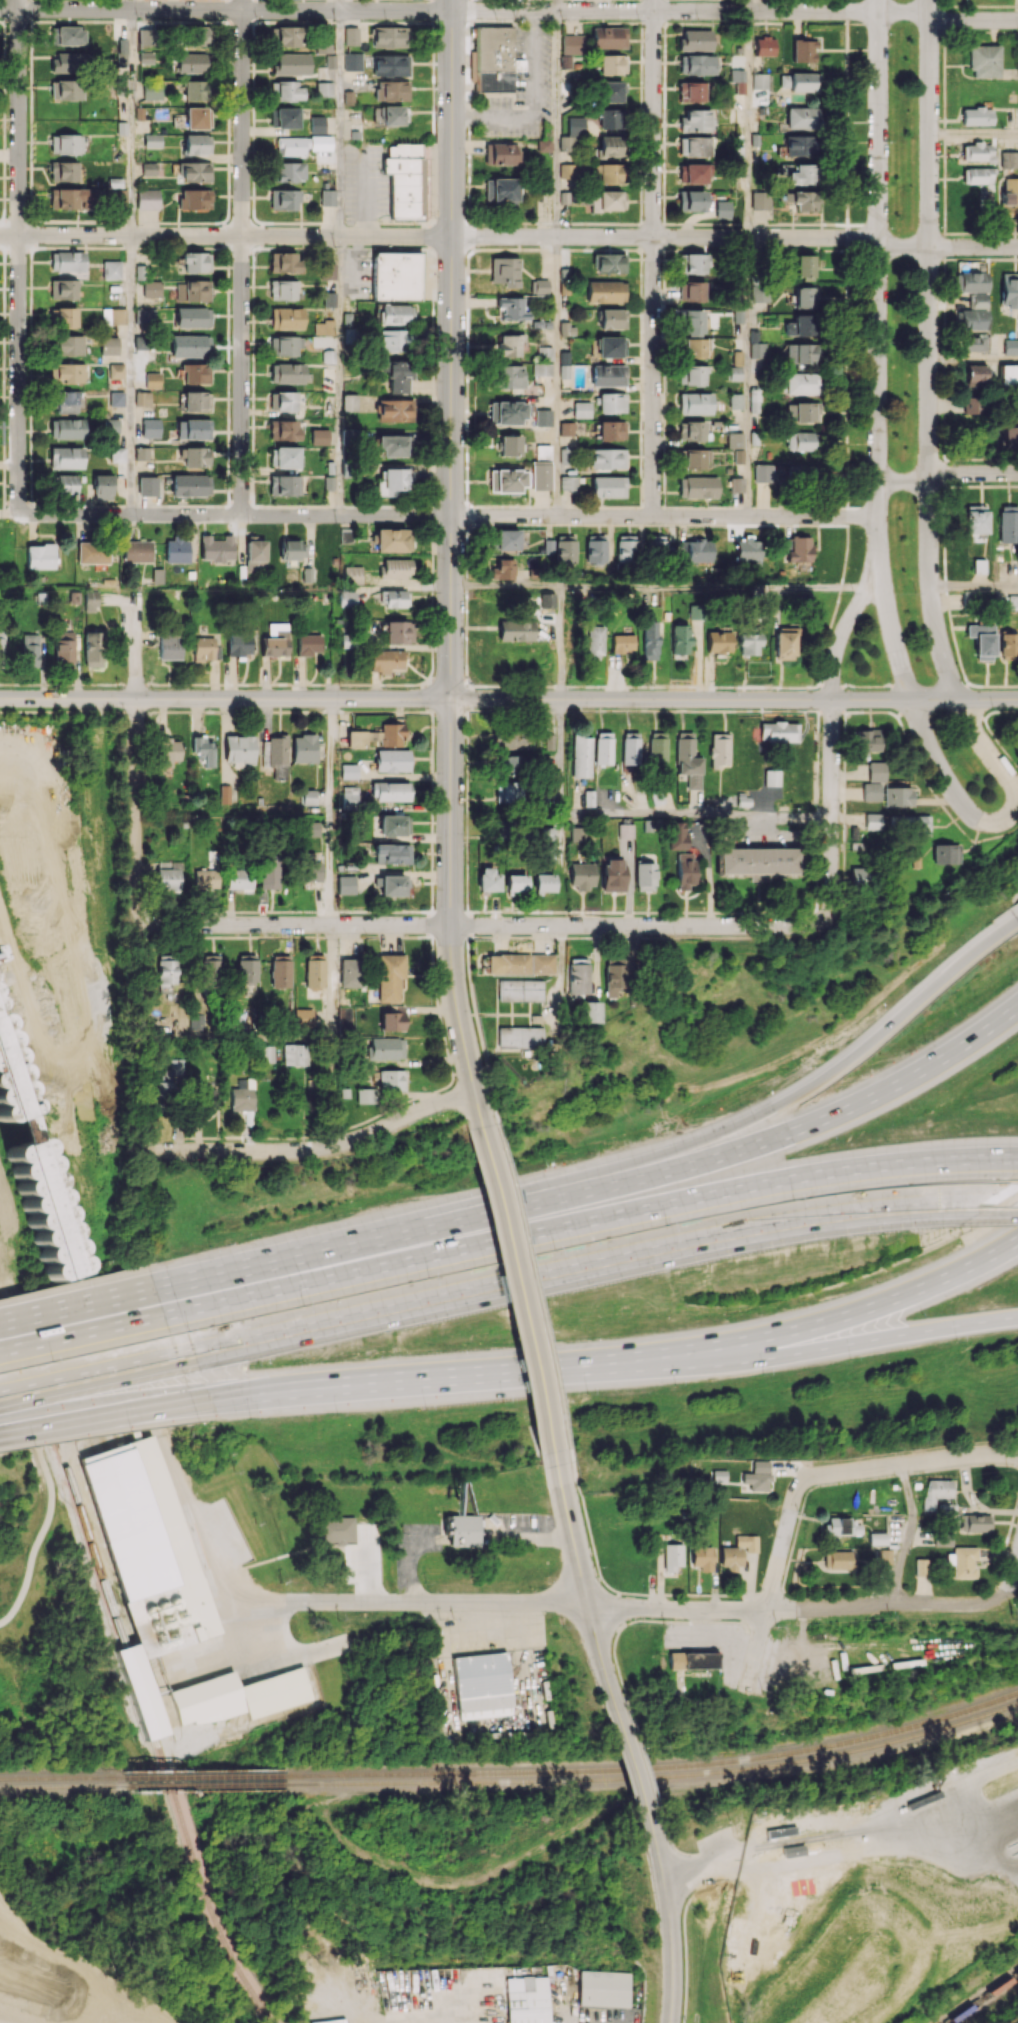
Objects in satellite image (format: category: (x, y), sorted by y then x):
road: (111, 4)
road: (342, 5)
road: (557, 5)
road: (749, 5)
road: (509, 11)
building: (146, 34)
building: (67, 35)
building: (198, 35)
building: (285, 36)
building: (351, 36)
building: (389, 36)
building: (609, 37)
building: (696, 40)
building: (572, 44)
building: (323, 46)
building: (764, 46)
building: (804, 50)
building: (122, 52)
building: (145, 57)
building: (494, 58)
building: (330, 61)
building: (352, 61)
building: (566, 61)
building: (984, 61)
building: (67, 62)
building: (191, 62)
building: (292, 64)
building: (612, 64)
building: (697, 64)
building: (390, 65)
building: (738, 79)
building: (760, 80)
building: (799, 81)
building: (66, 89)
building: (324, 89)
building: (152, 90)
building: (194, 90)
building: (285, 90)
building: (392, 91)
building: (610, 91)
building: (691, 91)
road: (531, 104)
building: (390, 115)
building: (976, 116)
building: (197, 117)
building: (285, 117)
building: (801, 117)
building: (609, 118)
building: (695, 120)
road: (132, 122)
road: (341, 123)
road: (557, 123)
road: (749, 123)
building: (317, 124)
building: (576, 126)
road: (973, 133)
building: (152, 140)
building: (324, 142)
building: (567, 143)
building: (66, 144)
building: (197, 144)
building: (544, 145)
building: (799, 145)
building: (291, 146)
building: (610, 146)
building: (695, 146)
building: (977, 152)
building: (502, 153)
building: (1009, 159)
building: (149, 168)
building: (63, 171)
building: (195, 171)
building: (288, 171)
building: (569, 171)
building: (608, 172)
building: (694, 172)
building: (801, 174)
building: (977, 175)
building: (403, 178)
building: (501, 191)
building: (117, 196)
building: (1009, 196)
building: (327, 197)
building: (71, 198)
building: (148, 198)
building: (195, 198)
building: (284, 199)
building: (761, 199)
building: (801, 199)
building: (605, 200)
building: (692, 200)
building: (723, 209)
road: (509, 236)
road: (18, 256)
road: (241, 257)
road: (878, 257)
road: (653, 258)
building: (67, 261)
building: (196, 262)
building: (284, 262)
building: (610, 263)
building: (696, 263)
building: (804, 266)
building: (504, 271)
building: (327, 275)
building: (396, 275)
building: (971, 282)
building: (539, 286)
building: (152, 288)
building: (63, 289)
building: (192, 290)
building: (283, 290)
building: (1009, 290)
building: (606, 291)
building: (692, 291)
road: (452, 292)
building: (760, 292)
building: (804, 296)
building: (329, 299)
building: (978, 300)
building: (512, 308)
building: (396, 314)
building: (144, 315)
building: (114, 316)
building: (63, 317)
building: (192, 317)
building: (286, 318)
building: (612, 319)
building: (971, 319)
building: (693, 322)
building: (799, 325)
building: (323, 327)
building: (565, 328)
building: (391, 340)
building: (141, 341)
building: (975, 343)
building: (69, 345)
building: (109, 345)
building: (285, 345)
building: (509, 345)
building: (190, 346)
building: (611, 346)
building: (1010, 346)
building: (695, 347)
road: (929, 350)
building: (800, 353)
building: (759, 356)
road: (973, 359)
building: (541, 369)
building: (116, 370)
building: (564, 371)
building: (287, 372)
building: (67, 373)
building: (194, 373)
building: (735, 373)
building: (1009, 374)
road: (131, 375)
building: (398, 375)
road: (557, 375)
building: (608, 375)
building: (692, 375)
building: (976, 375)
road: (340, 376)
building: (509, 376)
road: (747, 376)
building: (153, 380)
building: (802, 383)
building: (116, 398)
building: (142, 398)
building: (755, 400)
building: (67, 401)
building: (196, 401)
building: (283, 401)
building: (736, 401)
building: (350, 402)
building: (612, 402)
building: (695, 403)
building: (972, 404)
building: (582, 409)
building: (395, 410)
building: (803, 411)
building: (507, 412)
building: (543, 417)
building: (111, 426)
building: (68, 428)
building: (151, 428)
building: (193, 428)
building: (566, 428)
building: (284, 430)
building: (611, 430)
building: (692, 430)
building: (1010, 432)
building: (353, 434)
building: (320, 436)
building: (735, 440)
building: (801, 441)
building: (509, 445)
building: (395, 446)
building: (543, 452)
building: (142, 453)
building: (117, 454)
building: (196, 456)
building: (66, 457)
building: (285, 457)
building: (607, 458)
building: (693, 458)
building: (799, 472)
building: (762, 473)
road: (947, 473)
building: (541, 475)
building: (506, 480)
building: (393, 481)
building: (64, 483)
building: (568, 483)
building: (736, 484)
building: (147, 485)
building: (190, 485)
building: (285, 485)
building: (608, 486)
building: (102, 487)
building: (698, 487)
road: (448, 516)
building: (976, 520)
building: (1008, 524)
building: (346, 535)
building: (391, 540)
building: (505, 540)
building: (656, 547)
building: (216, 548)
building: (595, 548)
building: (797, 548)
building: (294, 549)
building: (565, 549)
building: (627, 549)
building: (176, 550)
building: (695, 550)
building: (747, 550)
building: (137, 551)
road: (878, 551)
building: (88, 553)
building: (255, 555)
building: (40, 556)
building: (979, 565)
building: (502, 570)
building: (353, 575)
road: (413, 585)
road: (505, 585)
road: (717, 586)
road: (974, 586)
building: (346, 597)
building: (393, 597)
building: (90, 600)
building: (547, 600)
building: (1012, 602)
building: (692, 611)
road: (887, 611)
building: (515, 630)
building: (398, 631)
building: (678, 639)
building: (275, 640)
building: (648, 640)
building: (982, 640)
road: (451, 641)
road: (559, 641)
building: (593, 641)
building: (238, 642)
building: (717, 642)
building: (620, 643)
building: (308, 644)
building: (747, 644)
building: (1008, 644)
building: (169, 645)
building: (783, 645)
building: (2, 647)
building: (63, 648)
building: (92, 648)
building: (205, 649)
building: (30, 650)
building: (386, 660)
road: (902, 668)
road: (474, 685)
road: (985, 685)
street lamp: (49, 687)
road: (935, 697)
road: (225, 698)
road: (505, 698)
road: (736, 699)
road: (988, 699)
road: (989, 727)
building: (777, 731)
building: (377, 736)
building: (511, 738)
building: (866, 740)
building: (549, 741)
road: (832, 747)
building: (304, 748)
building: (602, 748)
building: (629, 748)
building: (657, 748)
building: (203, 749)
building: (719, 749)
building: (239, 750)
building: (169, 751)
building: (276, 755)
building: (581, 755)
building: (392, 760)
building: (687, 760)
road: (135, 762)
building: (510, 765)
building: (348, 771)
building: (876, 771)
building: (771, 777)
building: (390, 791)
building: (871, 791)
building: (506, 792)
building: (225, 794)
building: (308, 796)
building: (898, 796)
building: (349, 797)
building: (588, 798)
road: (330, 811)
road: (638, 815)
building: (872, 821)
road: (993, 822)
building: (394, 825)
building: (310, 829)
building: (625, 830)
building: (577, 834)
building: (675, 835)
building: (547, 843)
building: (393, 852)
building: (946, 853)
building: (756, 862)
building: (308, 867)
building: (685, 870)
building: (268, 872)
building: (612, 874)
building: (168, 875)
building: (581, 875)
building: (644, 876)
building: (859, 876)
building: (206, 878)
building: (239, 879)
building: (488, 879)
building: (543, 882)
building: (345, 884)
building: (515, 884)
building: (392, 885)
road: (451, 912)
road: (1017, 918)
road: (482, 925)
road: (795, 936)
building: (520, 963)
building: (246, 969)
building: (166, 970)
building: (209, 970)
building: (280, 971)
building: (314, 971)
building: (349, 972)
building: (613, 977)
building: (387, 978)
building: (577, 978)
road: (563, 979)
building: (0, 988)
building: (519, 990)
building: (588, 1011)
building: (303, 1017)
building: (344, 1018)
building: (390, 1018)
building: (548, 1021)
building: (198, 1022)
building: (519, 1037)
road: (297, 1039)
building: (385, 1048)
building: (265, 1054)
building: (295, 1054)
building: (391, 1079)
building: (169, 1080)
building: (11, 1085)
silo: (11, 1085)
road: (804, 1088)
building: (365, 1095)
building: (242, 1096)
building: (213, 1101)
road: (798, 1127)
road: (312, 1148)
road: (1012, 1203)
building: (43, 1208)
silo: (43, 1208)
road: (588, 1219)
road: (355, 1240)
road: (589, 1263)
road: (533, 1282)
road: (518, 1290)
road: (77, 1305)
road: (861, 1307)
road: (81, 1330)
road: (859, 1343)
road: (88, 1375)
road: (445, 1376)
road: (95, 1411)
road: (932, 1460)
road: (48, 1474)
building: (756, 1476)
road: (861, 1478)
building: (935, 1492)
building: (946, 1508)
building: (974, 1523)
building: (842, 1526)
building: (336, 1529)
road: (570, 1529)
building: (463, 1530)
road: (1010, 1530)
road: (908, 1534)
building: (877, 1538)
building: (942, 1539)
building: (147, 1544)
building: (738, 1551)
road: (208, 1554)
building: (672, 1556)
building: (882, 1556)
building: (702, 1558)
building: (837, 1559)
building: (962, 1562)
road: (777, 1563)
building: (920, 1567)
road: (363, 1576)
road: (1013, 1577)
road: (613, 1588)
railway: (109, 1589)
road: (665, 1606)
road: (747, 1608)
road: (618, 1610)
road: (680, 1620)
road: (602, 1649)
building: (693, 1660)
building: (482, 1685)
building: (139, 1691)
building: (276, 1692)
building: (206, 1699)
road: (644, 1763)
railway: (655, 1768)
road: (639, 1773)
railway: (204, 1775)
railway: (62, 1776)
railway: (655, 1777)
railway: (179, 1778)
railway: (204, 1784)
railway: (62, 1785)
road: (768, 1852)
railway: (207, 1885)
road: (683, 1912)
building: (740, 1914)
road: (674, 1935)
building: (604, 1988)
railway: (983, 1999)
building: (528, 2001)

